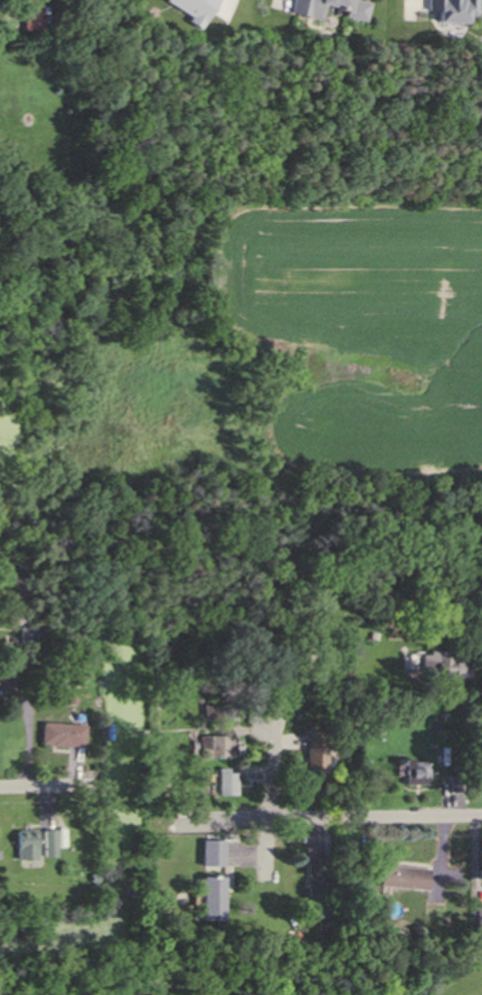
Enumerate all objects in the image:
building: (195, 9)
building: (451, 9)
building: (304, 10)
building: (29, 14)
building: (299, 598)
building: (313, 614)
building: (24, 634)
building: (444, 665)
road: (305, 673)
building: (25, 683)
building: (7, 689)
building: (70, 701)
building: (50, 702)
building: (158, 704)
building: (215, 714)
building: (60, 732)
building: (213, 748)
building: (319, 749)
road: (273, 757)
building: (156, 768)
building: (410, 769)
building: (223, 780)
building: (453, 782)
road: (40, 791)
building: (196, 809)
road: (331, 819)
road: (180, 820)
building: (47, 842)
building: (25, 844)
building: (216, 850)
building: (477, 864)
building: (318, 866)
building: (92, 875)
building: (401, 877)
building: (217, 896)
building: (320, 901)
building: (477, 913)
park: (246, 969)
park: (467, 987)

